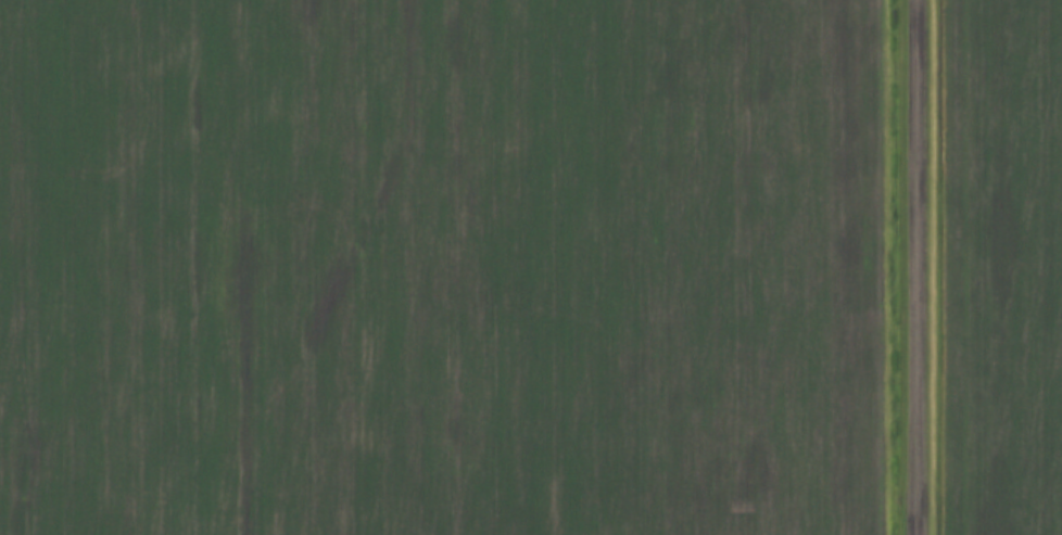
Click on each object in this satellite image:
road: (920, 267)

